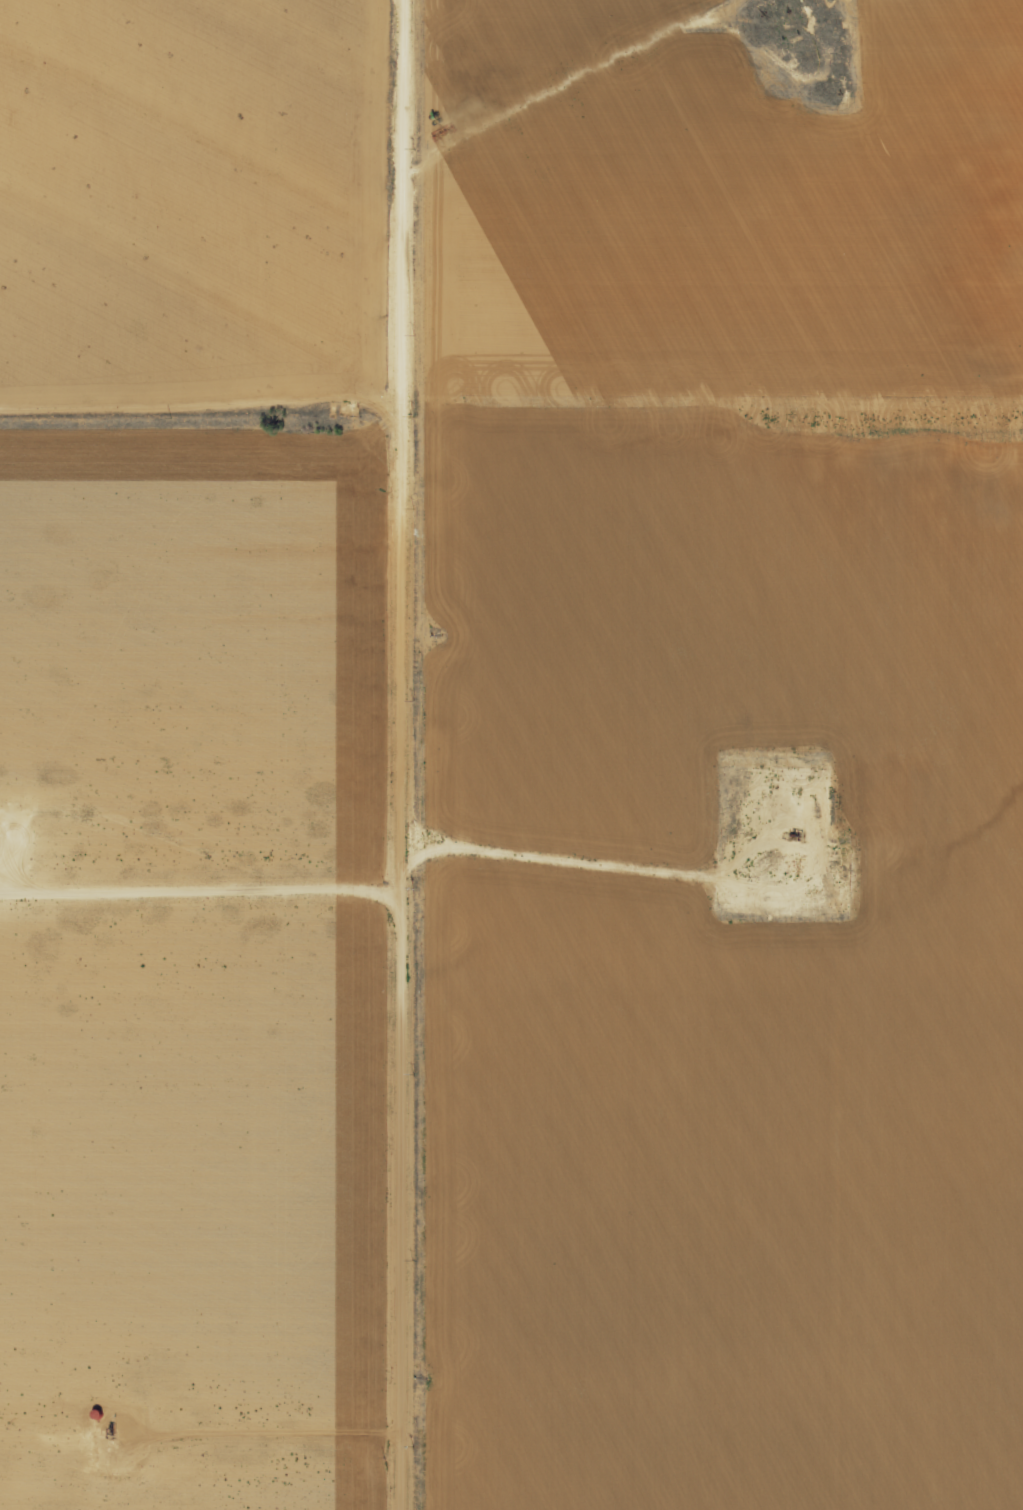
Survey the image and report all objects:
road: (397, 755)
road: (198, 885)

